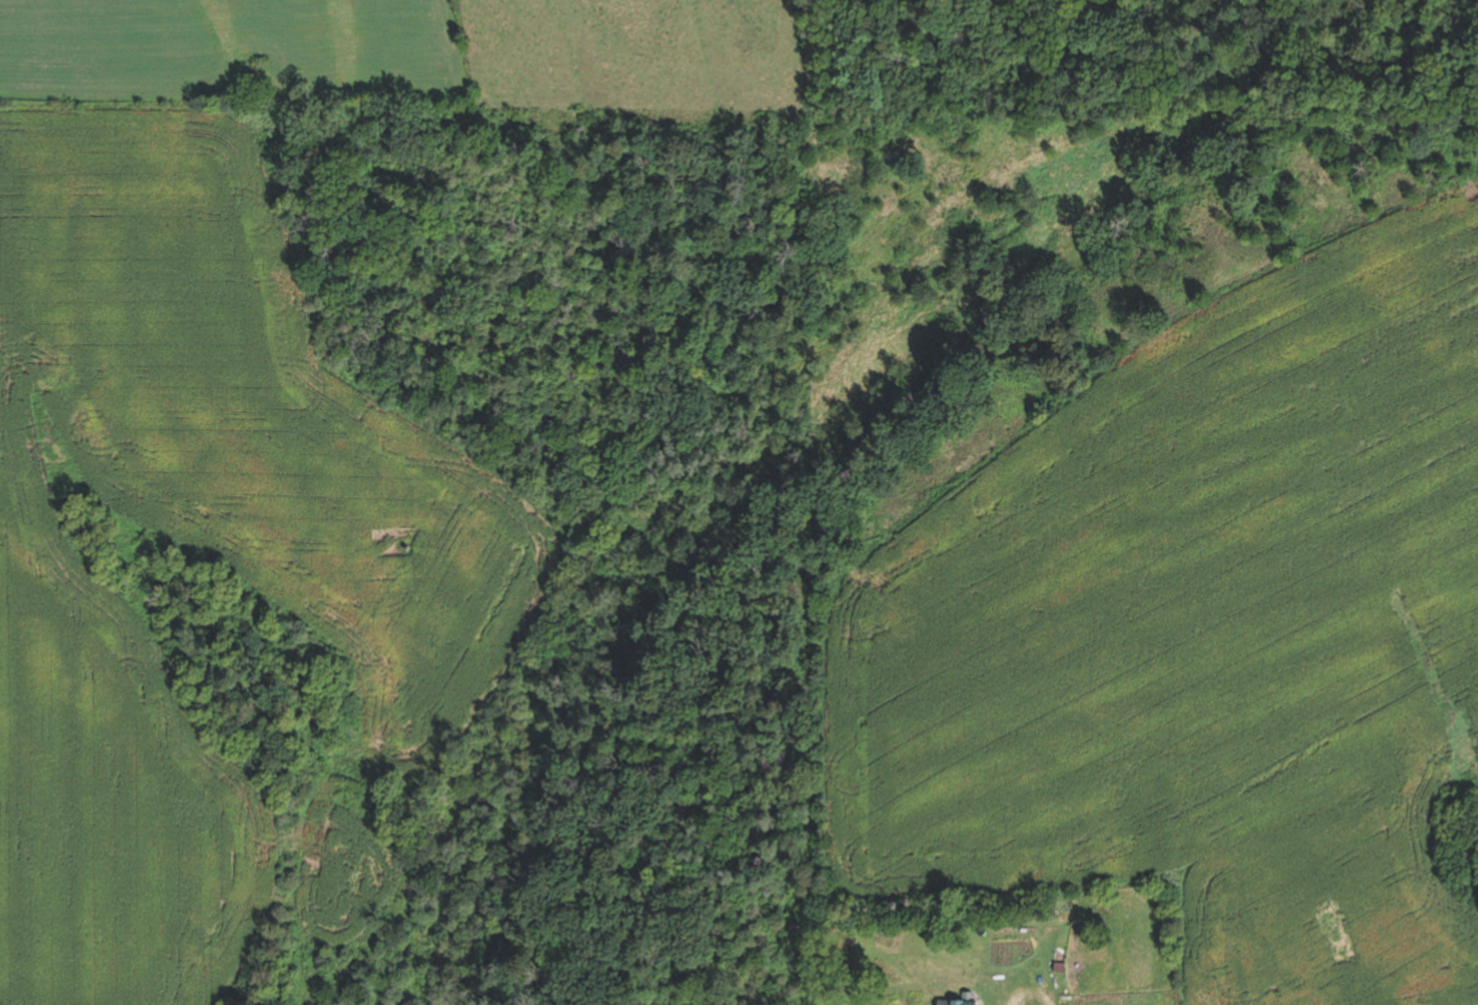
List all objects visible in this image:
building: (954, 1003)

